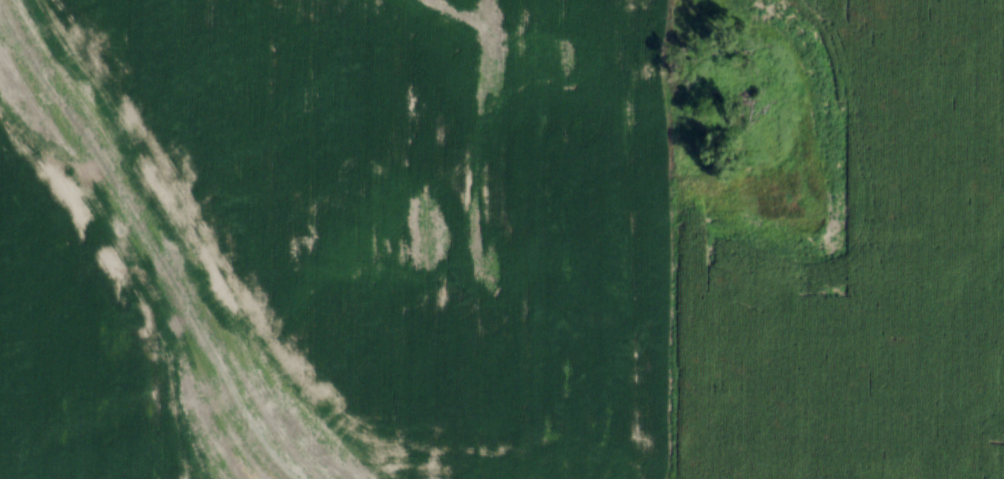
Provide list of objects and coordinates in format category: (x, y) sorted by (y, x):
building: (956, 464)

